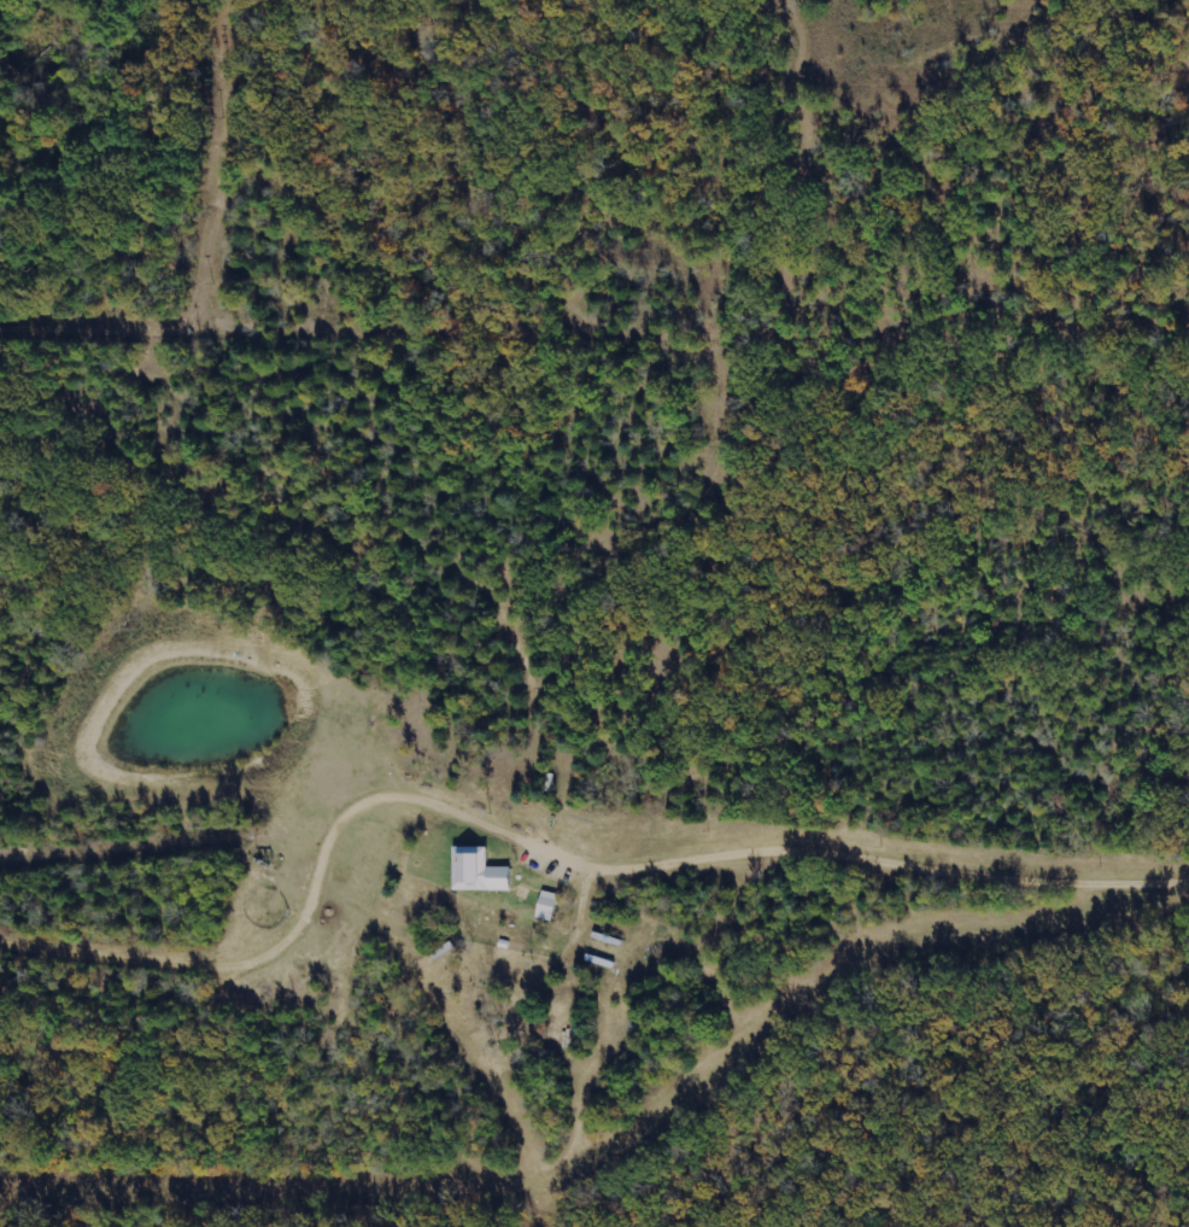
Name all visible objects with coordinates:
park: (510, 300)
building: (478, 872)
building: (546, 906)

